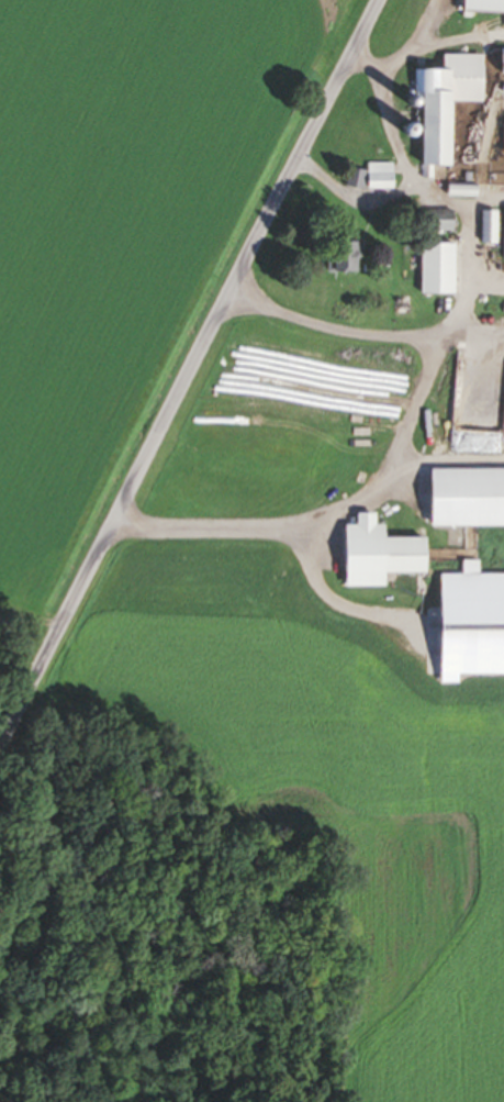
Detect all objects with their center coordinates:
building: (483, 7)
building: (501, 64)
building: (444, 108)
road: (388, 116)
building: (503, 141)
building: (370, 180)
road: (438, 198)
building: (438, 223)
building: (488, 230)
building: (344, 260)
building: (435, 271)
road: (188, 372)
road: (402, 438)
building: (464, 501)
building: (376, 558)

